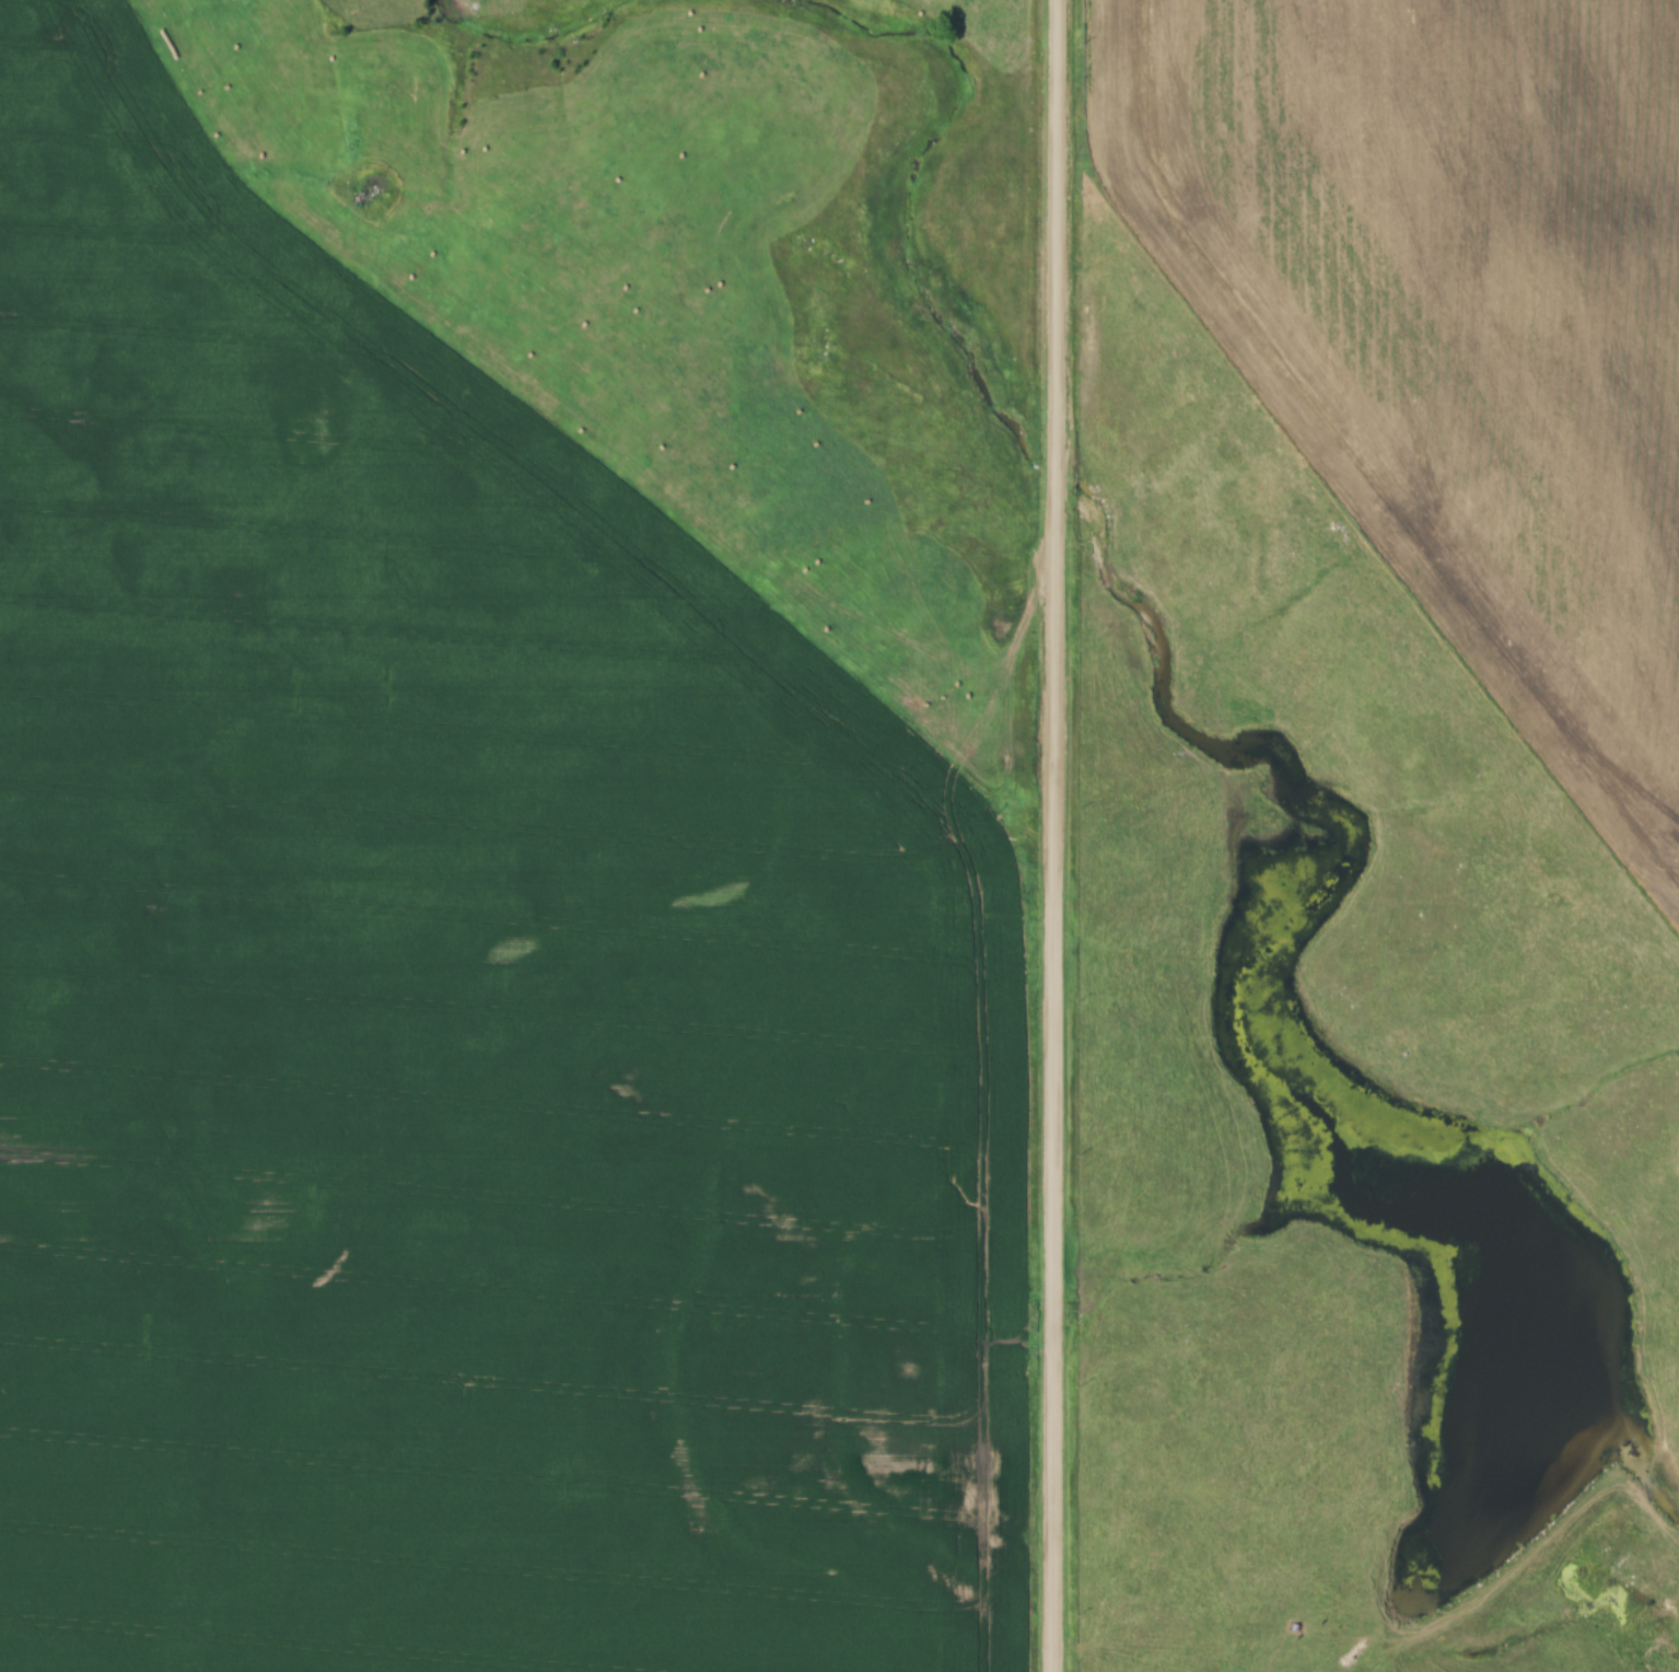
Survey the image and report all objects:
road: (1054, 835)

